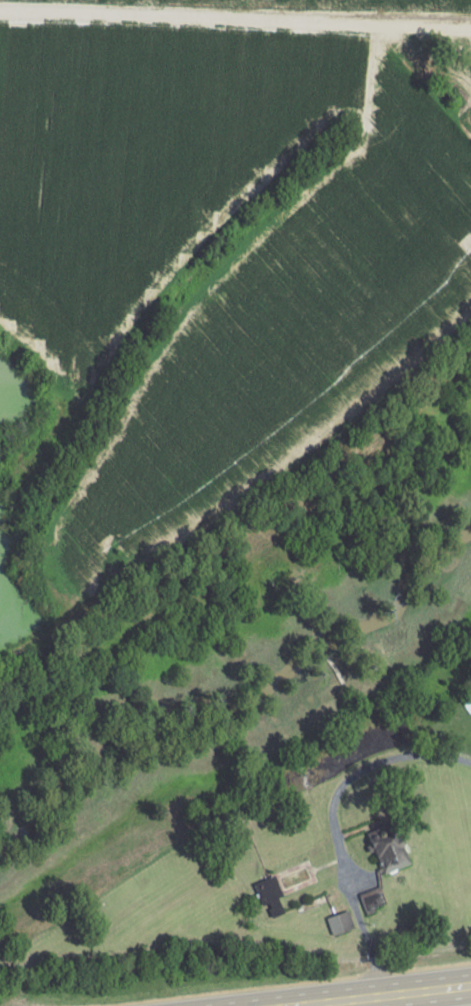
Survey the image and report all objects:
road: (235, 9)
building: (390, 847)
building: (271, 895)
road: (337, 990)

